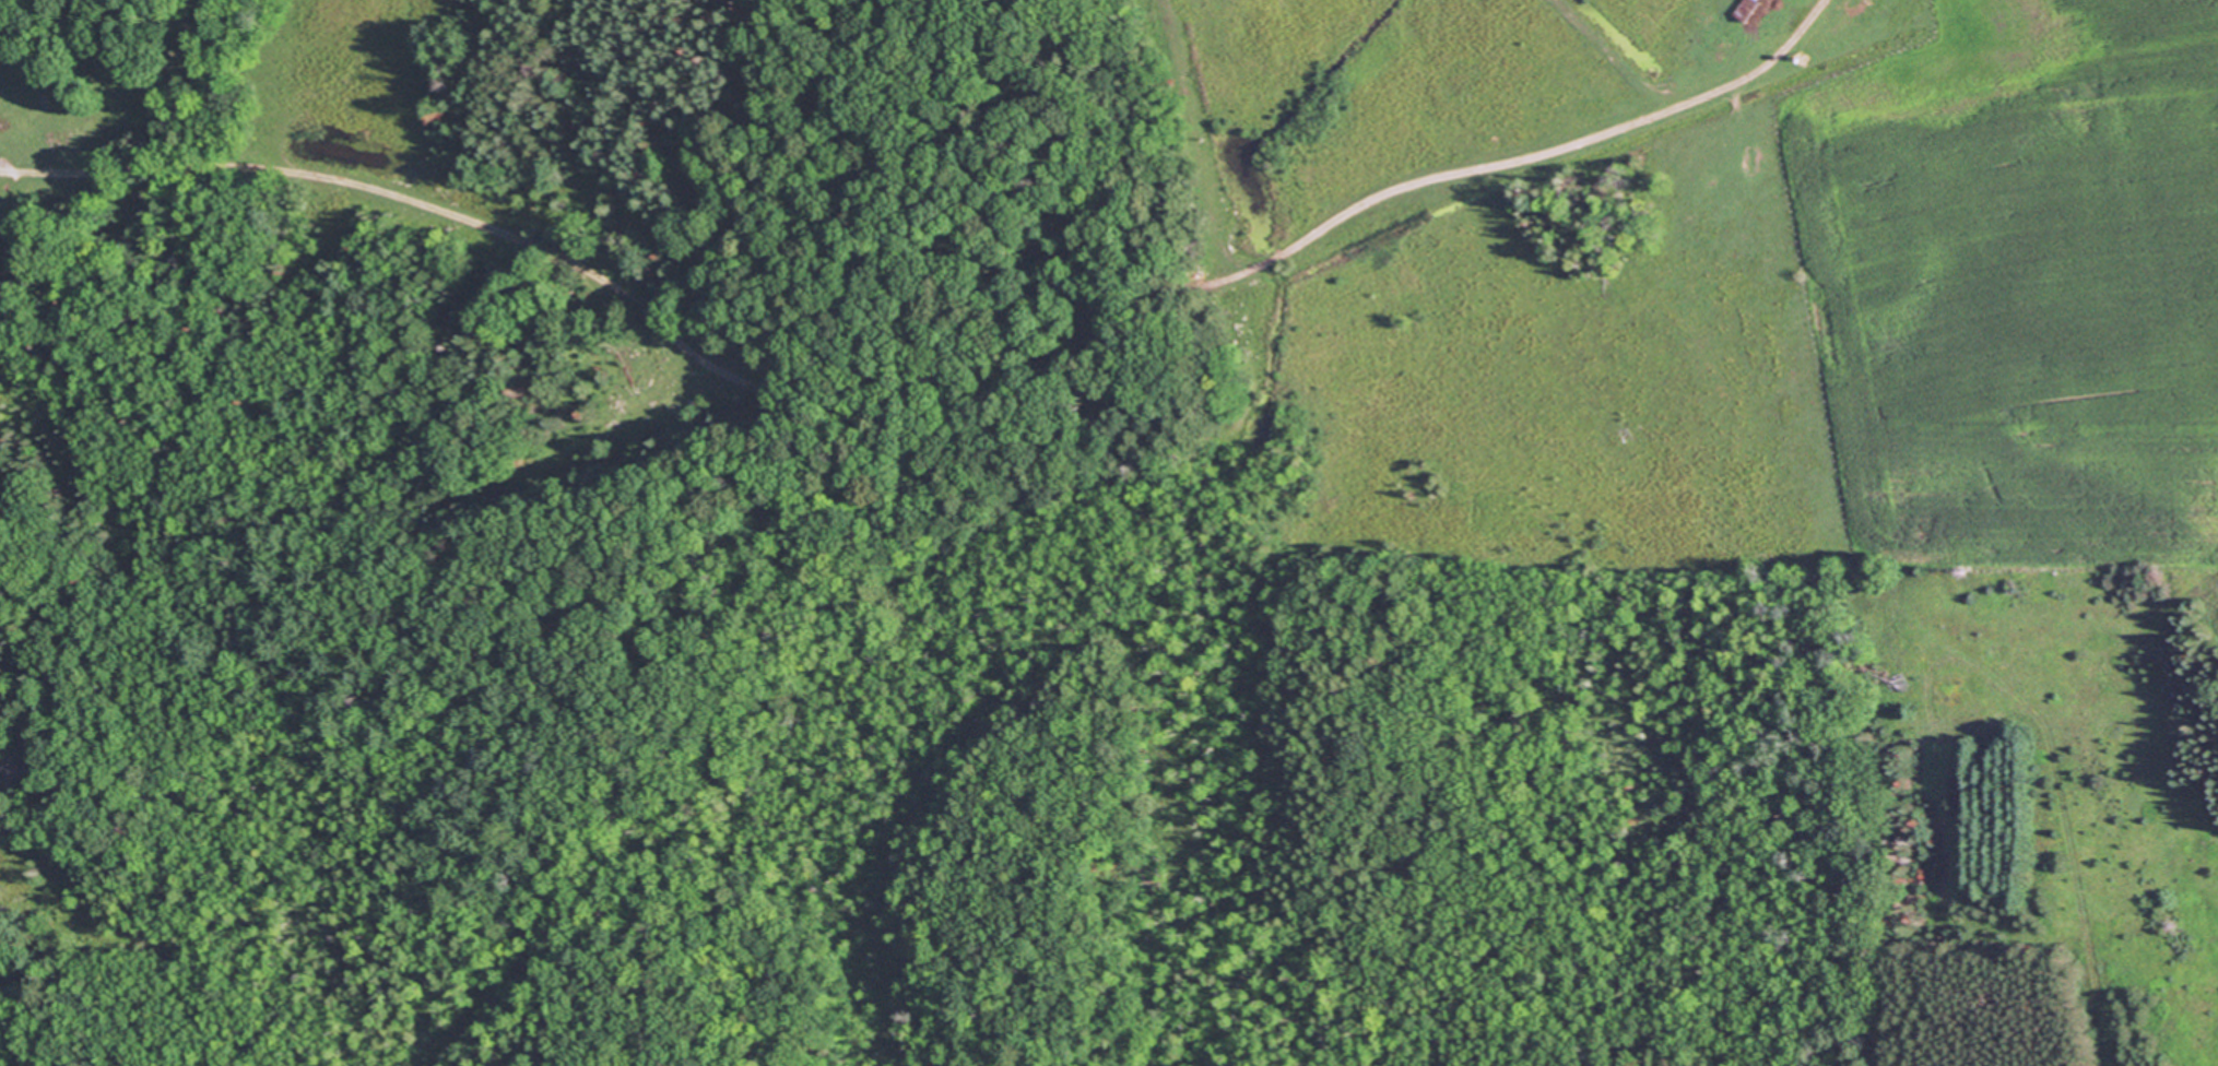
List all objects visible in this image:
building: (1753, 10)
road: (933, 395)

